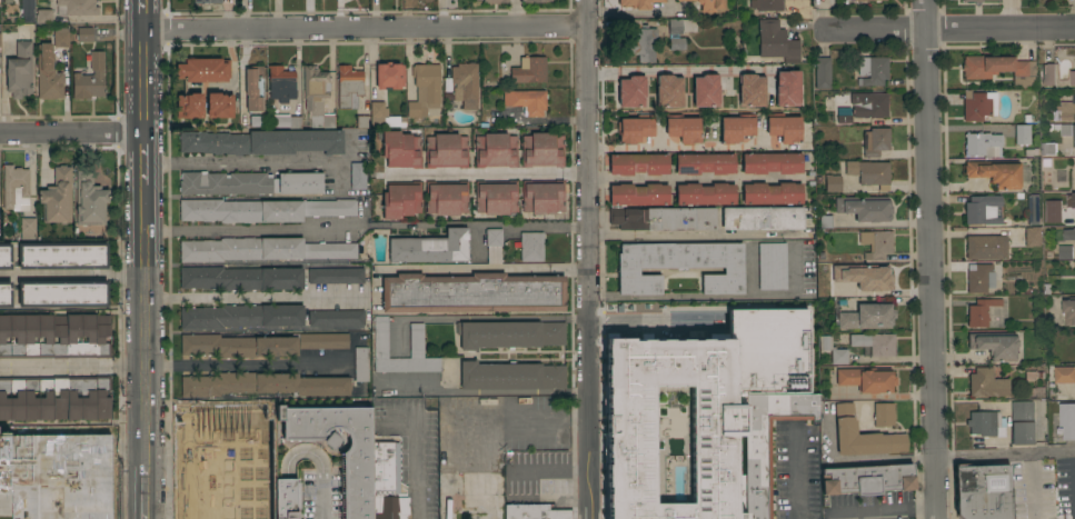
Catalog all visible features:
building: (534, 0)
building: (877, 0)
building: (972, 0)
building: (207, 1)
building: (495, 1)
building: (638, 3)
building: (710, 4)
building: (767, 4)
building: (28, 7)
building: (76, 7)
road: (633, 11)
road: (142, 14)
building: (43, 16)
building: (680, 26)
road: (366, 28)
road: (947, 28)
building: (84, 34)
building: (61, 37)
building: (641, 40)
building: (776, 41)
building: (676, 43)
building: (998, 68)
building: (20, 69)
building: (203, 69)
road: (678, 69)
building: (529, 70)
building: (873, 70)
building: (823, 71)
building: (48, 74)
building: (389, 74)
building: (1048, 74)
building: (90, 78)
building: (1072, 78)
road: (143, 81)
building: (281, 82)
building: (464, 84)
building: (349, 87)
building: (787, 87)
building: (253, 88)
building: (425, 89)
building: (668, 90)
building: (705, 90)
building: (750, 90)
building: (631, 91)
building: (317, 96)
building: (527, 100)
building: (189, 104)
building: (219, 104)
building: (868, 104)
building: (978, 106)
building: (1059, 114)
building: (382, 116)
building: (844, 118)
building: (1025, 118)
building: (285, 121)
building: (736, 127)
building: (783, 127)
building: (634, 128)
building: (683, 128)
building: (1066, 130)
road: (72, 133)
building: (1022, 133)
building: (261, 141)
building: (875, 141)
building: (983, 143)
road: (680, 144)
building: (400, 148)
building: (543, 149)
building: (1047, 149)
building: (446, 150)
building: (496, 150)
building: (1029, 152)
road: (145, 161)
road: (256, 161)
building: (772, 162)
building: (638, 163)
building: (705, 163)
building: (1045, 163)
building: (869, 172)
building: (998, 172)
road: (339, 173)
building: (358, 176)
road: (593, 180)
building: (251, 182)
building: (833, 182)
building: (16, 187)
building: (638, 193)
building: (705, 193)
building: (773, 193)
building: (57, 197)
building: (447, 197)
building: (497, 197)
building: (543, 197)
building: (1048, 197)
building: (90, 198)
building: (401, 199)
building: (1071, 201)
building: (865, 207)
building: (263, 209)
building: (983, 209)
building: (1033, 209)
building: (1051, 213)
building: (663, 218)
building: (763, 218)
building: (824, 221)
road: (534, 223)
building: (28, 228)
road: (250, 229)
road: (697, 232)
building: (1068, 234)
building: (1033, 237)
building: (876, 243)
building: (494, 246)
building: (431, 247)
building: (531, 247)
building: (986, 247)
building: (262, 249)
building: (1065, 252)
building: (4, 256)
building: (62, 256)
road: (588, 259)
road: (930, 259)
building: (679, 266)
building: (773, 266)
road: (486, 268)
road: (72, 275)
building: (336, 276)
building: (240, 278)
building: (979, 278)
building: (879, 280)
building: (1046, 289)
building: (6, 293)
building: (63, 293)
building: (472, 293)
road: (252, 297)
building: (981, 311)
building: (1068, 311)
building: (242, 316)
building: (867, 316)
building: (336, 318)
road: (694, 322)
road: (146, 327)
building: (509, 333)
building: (54, 336)
building: (380, 339)
building: (874, 342)
building: (259, 345)
building: (995, 345)
building: (832, 349)
building: (649, 358)
road: (241, 363)
building: (361, 363)
road: (73, 366)
building: (1064, 375)
building: (510, 376)
building: (867, 378)
building: (261, 383)
building: (986, 383)
building: (54, 397)
building: (883, 413)
building: (1065, 420)
building: (1022, 422)
building: (985, 423)
building: (724, 425)
road: (496, 427)
building: (863, 436)
building: (768, 442)
road: (420, 449)
road: (1005, 451)
road: (859, 458)
road: (320, 462)
building: (60, 471)
road: (795, 473)
building: (867, 479)
building: (386, 482)
building: (354, 485)
road: (146, 491)
building: (982, 491)
building: (287, 498)
building: (714, 498)
building: (638, 506)
road: (902, 506)
building: (535, 511)
road: (867, 513)

